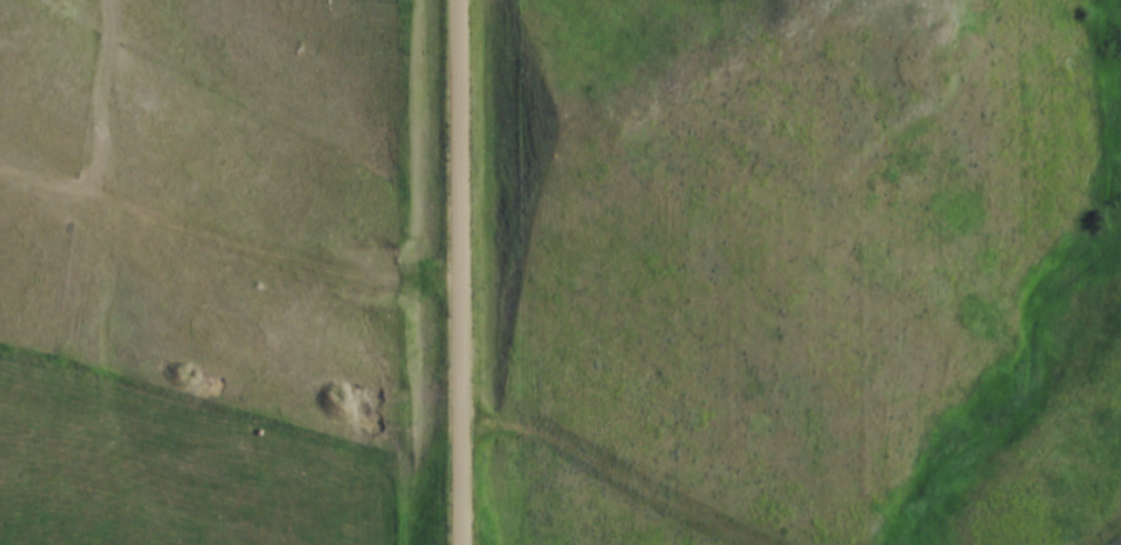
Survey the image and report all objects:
road: (461, 272)
road: (625, 482)
road: (1103, 529)

